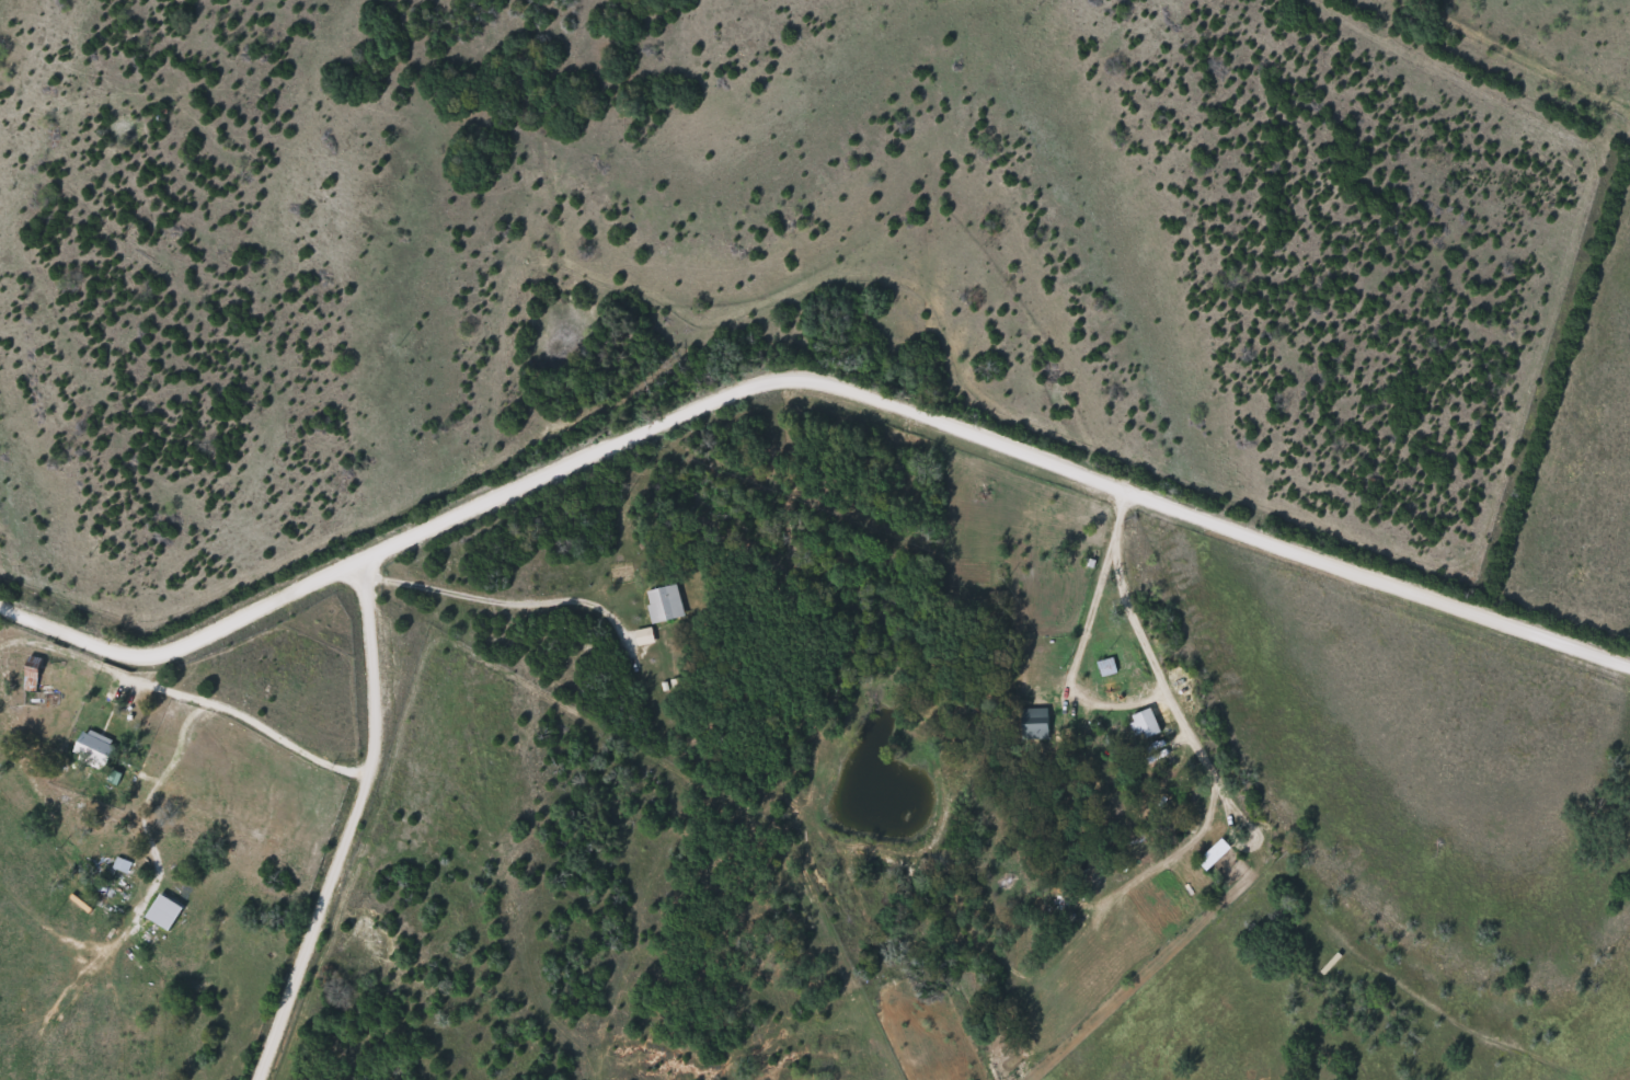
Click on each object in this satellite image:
railway: (1522, 53)
road: (803, 378)
building: (665, 602)
building: (1106, 665)
building: (33, 671)
building: (1133, 673)
building: (1146, 722)
building: (95, 746)
road: (344, 824)
building: (1215, 852)
building: (108, 875)

